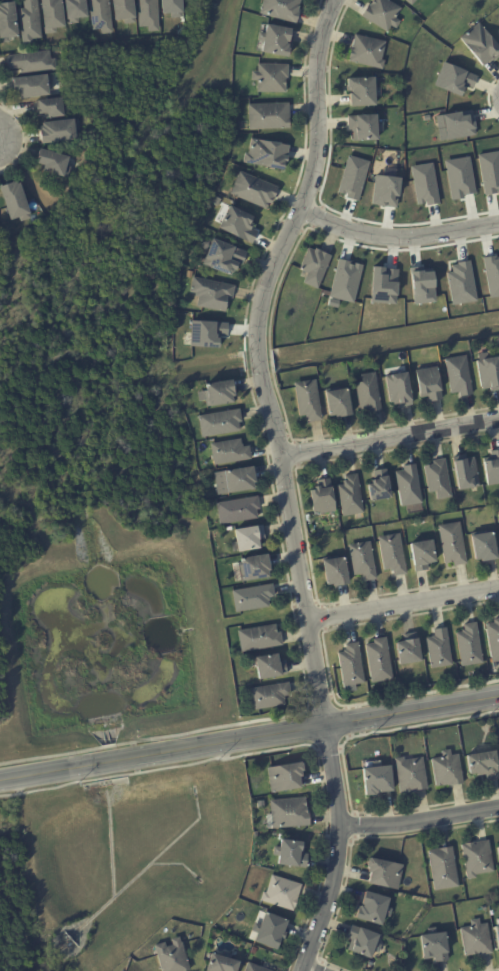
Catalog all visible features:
building: (411, 1)
building: (171, 7)
building: (281, 9)
building: (74, 10)
building: (123, 10)
building: (147, 14)
building: (382, 14)
building: (51, 15)
building: (99, 15)
building: (7, 21)
building: (29, 21)
building: (275, 39)
building: (481, 45)
building: (367, 51)
building: (31, 62)
building: (270, 77)
building: (453, 78)
building: (31, 85)
building: (363, 91)
building: (52, 107)
building: (268, 116)
building: (425, 116)
building: (457, 124)
building: (364, 127)
building: (57, 130)
building: (265, 153)
building: (52, 162)
building: (489, 170)
building: (351, 176)
building: (459, 177)
building: (424, 183)
building: (253, 190)
building: (384, 190)
building: (13, 201)
building: (216, 201)
building: (238, 224)
road: (398, 237)
building: (221, 256)
building: (315, 267)
building: (491, 274)
building: (344, 280)
building: (460, 283)
building: (383, 285)
building: (421, 287)
building: (212, 294)
building: (332, 302)
building: (205, 333)
building: (489, 373)
building: (459, 375)
building: (429, 384)
building: (399, 389)
building: (368, 393)
building: (219, 394)
building: (308, 400)
building: (338, 403)
building: (219, 423)
road: (390, 438)
building: (229, 452)
building: (491, 468)
building: (466, 473)
building: (436, 478)
building: (233, 479)
road: (284, 481)
building: (406, 483)
building: (379, 486)
building: (348, 494)
building: (321, 496)
building: (236, 509)
building: (498, 519)
building: (246, 537)
building: (453, 544)
building: (484, 549)
building: (392, 554)
building: (423, 556)
building: (363, 561)
building: (252, 566)
building: (335, 573)
building: (250, 596)
road: (403, 603)
building: (258, 638)
building: (493, 641)
building: (469, 646)
building: (409, 651)
building: (439, 651)
building: (379, 661)
building: (351, 666)
building: (269, 668)
building: (270, 696)
building: (498, 732)
road: (249, 736)
building: (483, 764)
building: (447, 770)
building: (410, 776)
building: (284, 777)
building: (377, 780)
building: (260, 805)
building: (289, 812)
road: (418, 823)
building: (497, 852)
building: (291, 853)
building: (477, 858)
building: (443, 868)
building: (385, 873)
building: (281, 892)
building: (373, 908)
building: (270, 930)
building: (497, 932)
building: (476, 939)
building: (363, 941)
building: (435, 946)
building: (253, 950)
building: (172, 956)
building: (221, 963)
building: (254, 968)
road: (309, 969)

